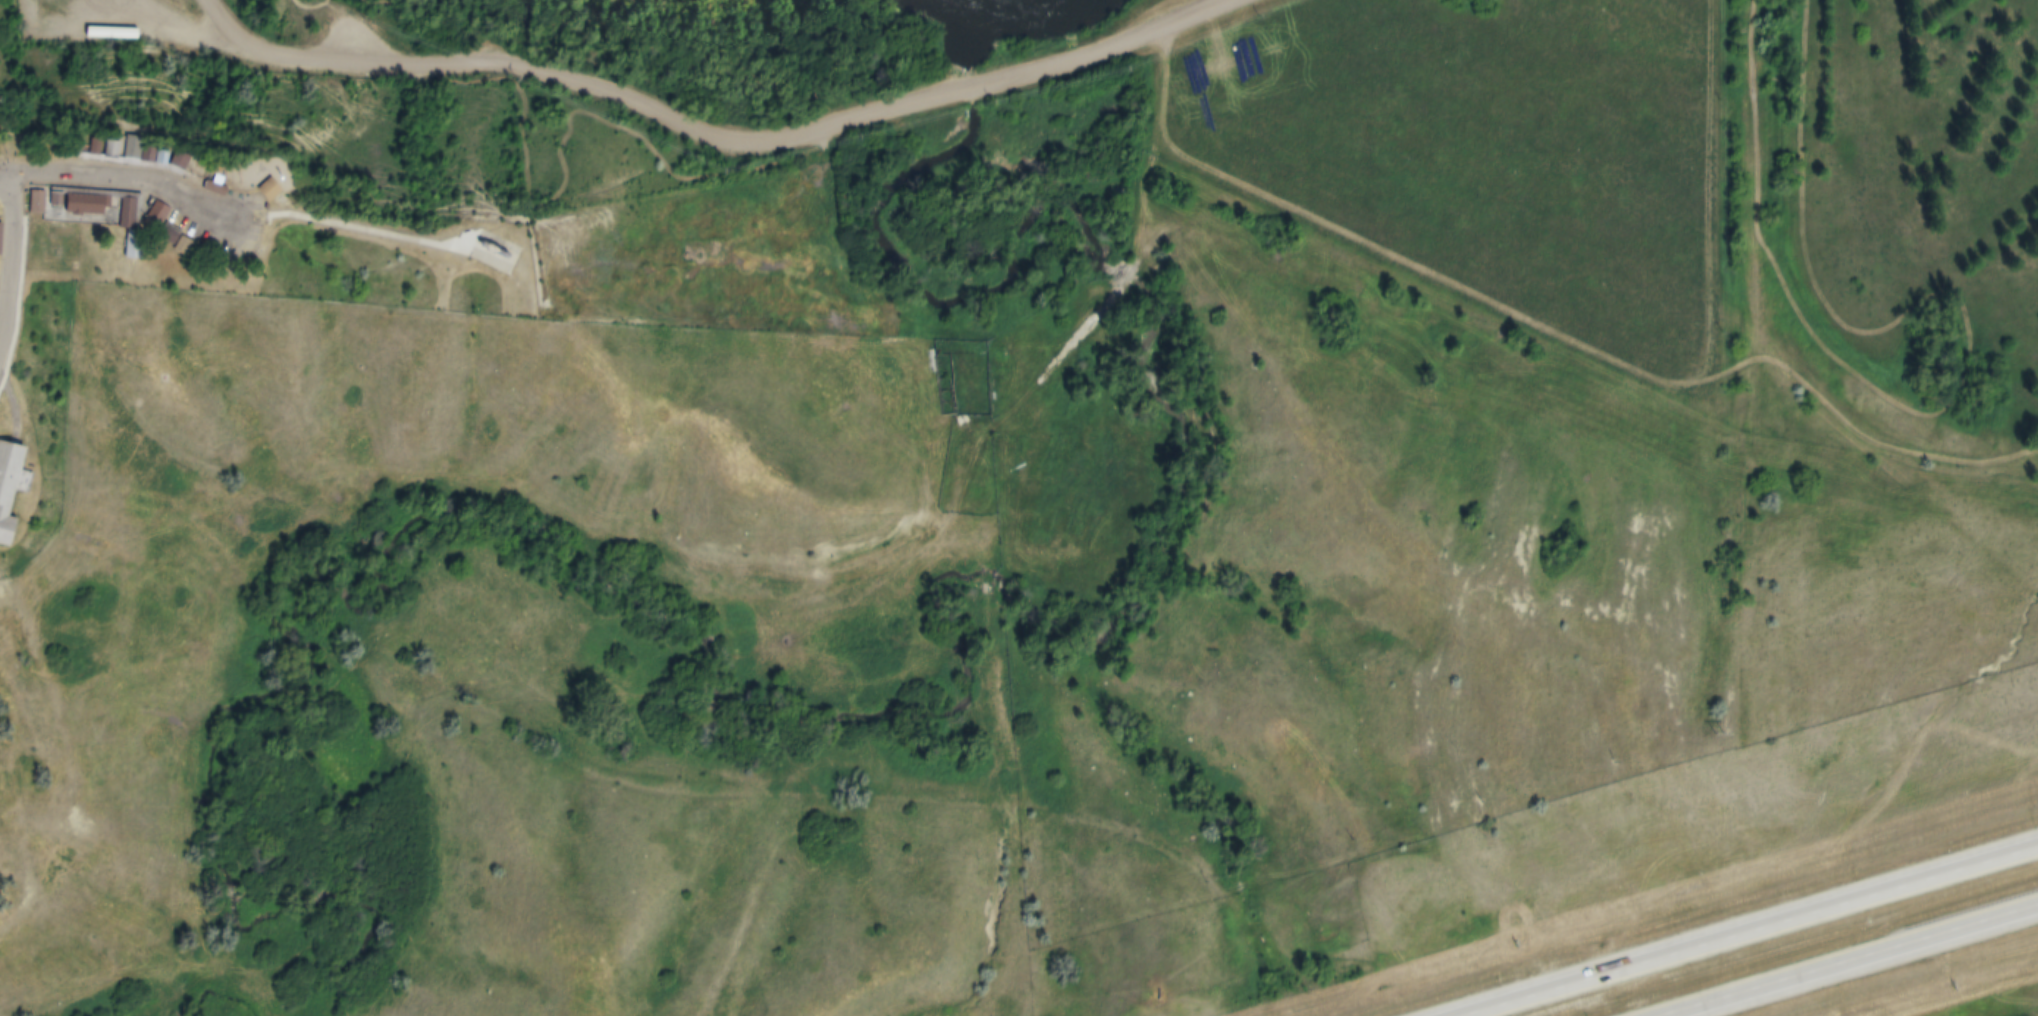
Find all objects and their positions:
river: (1007, 3)
road: (229, 28)
building: (0, 64)
road: (645, 106)
building: (79, 146)
building: (115, 147)
building: (94, 148)
building: (131, 154)
building: (145, 157)
building: (161, 160)
building: (205, 170)
road: (123, 183)
building: (198, 188)
building: (251, 189)
building: (75, 202)
building: (29, 203)
building: (115, 212)
building: (146, 214)
building: (1, 233)
road: (366, 233)
building: (159, 235)
road: (14, 264)
road: (1030, 401)
building: (39, 480)
building: (17, 494)
road: (1739, 931)
road: (1859, 966)

